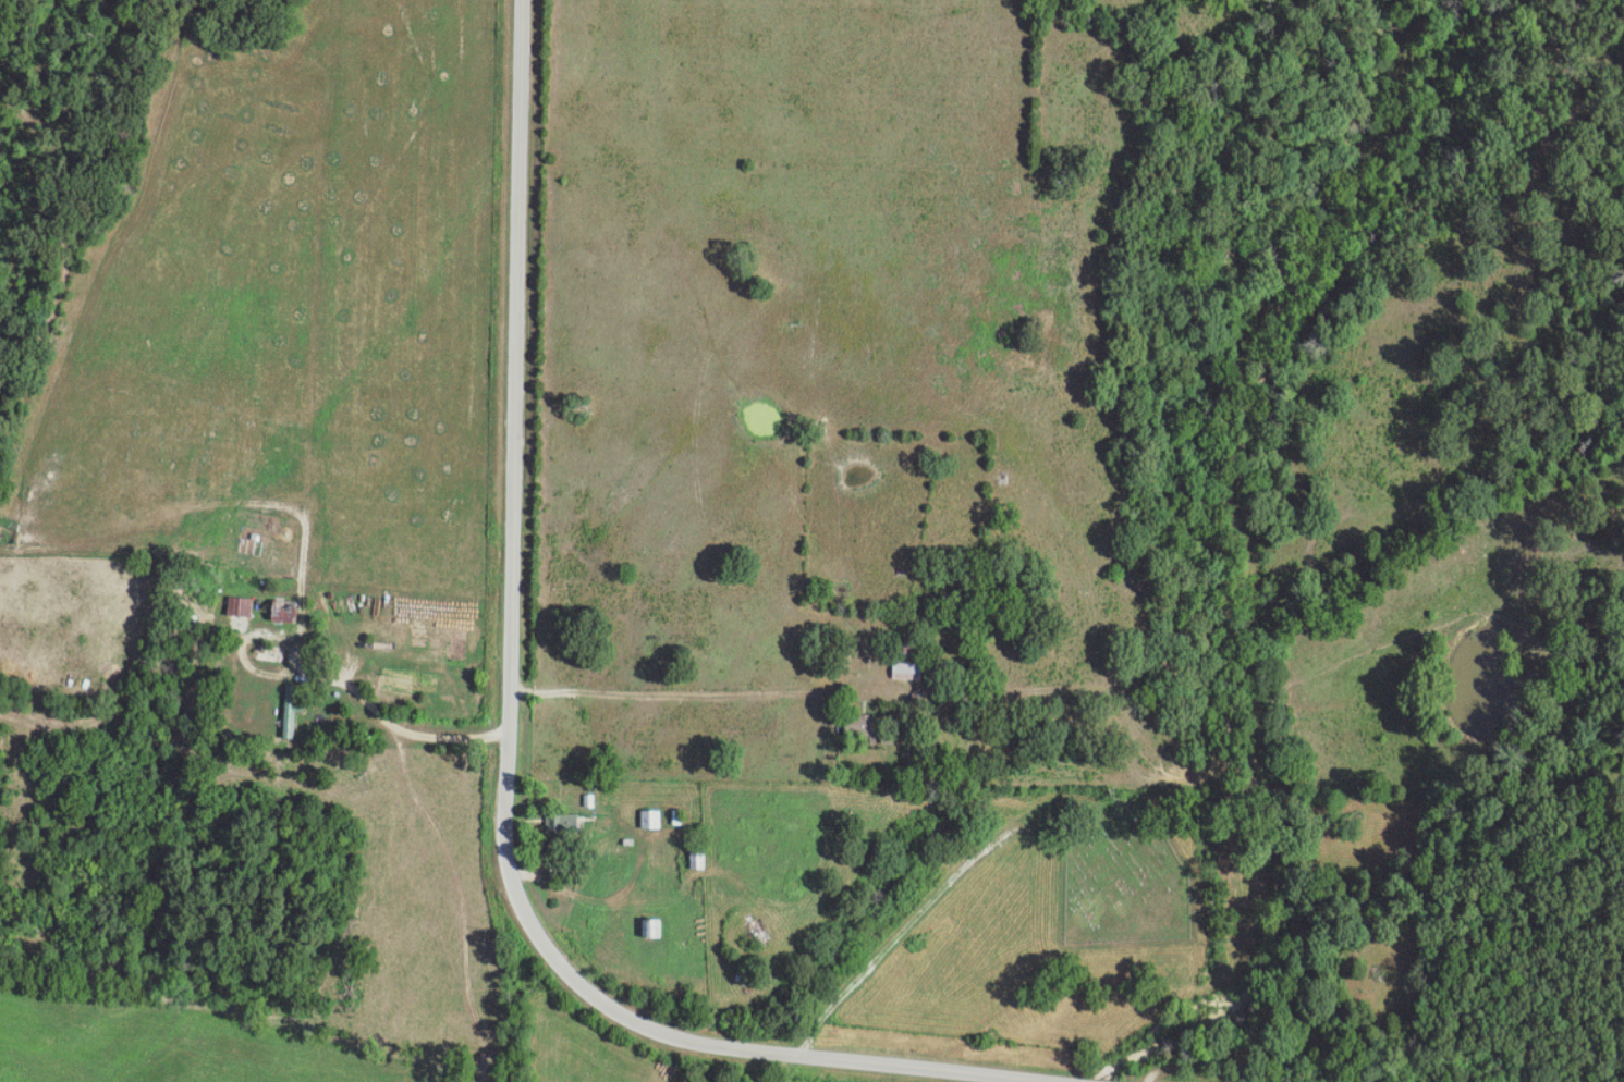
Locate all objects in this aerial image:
building: (245, 606)
building: (905, 671)
road: (691, 692)
building: (295, 711)
building: (859, 725)
road: (396, 728)
road: (511, 748)
building: (649, 820)
park: (1131, 880)
building: (649, 929)

